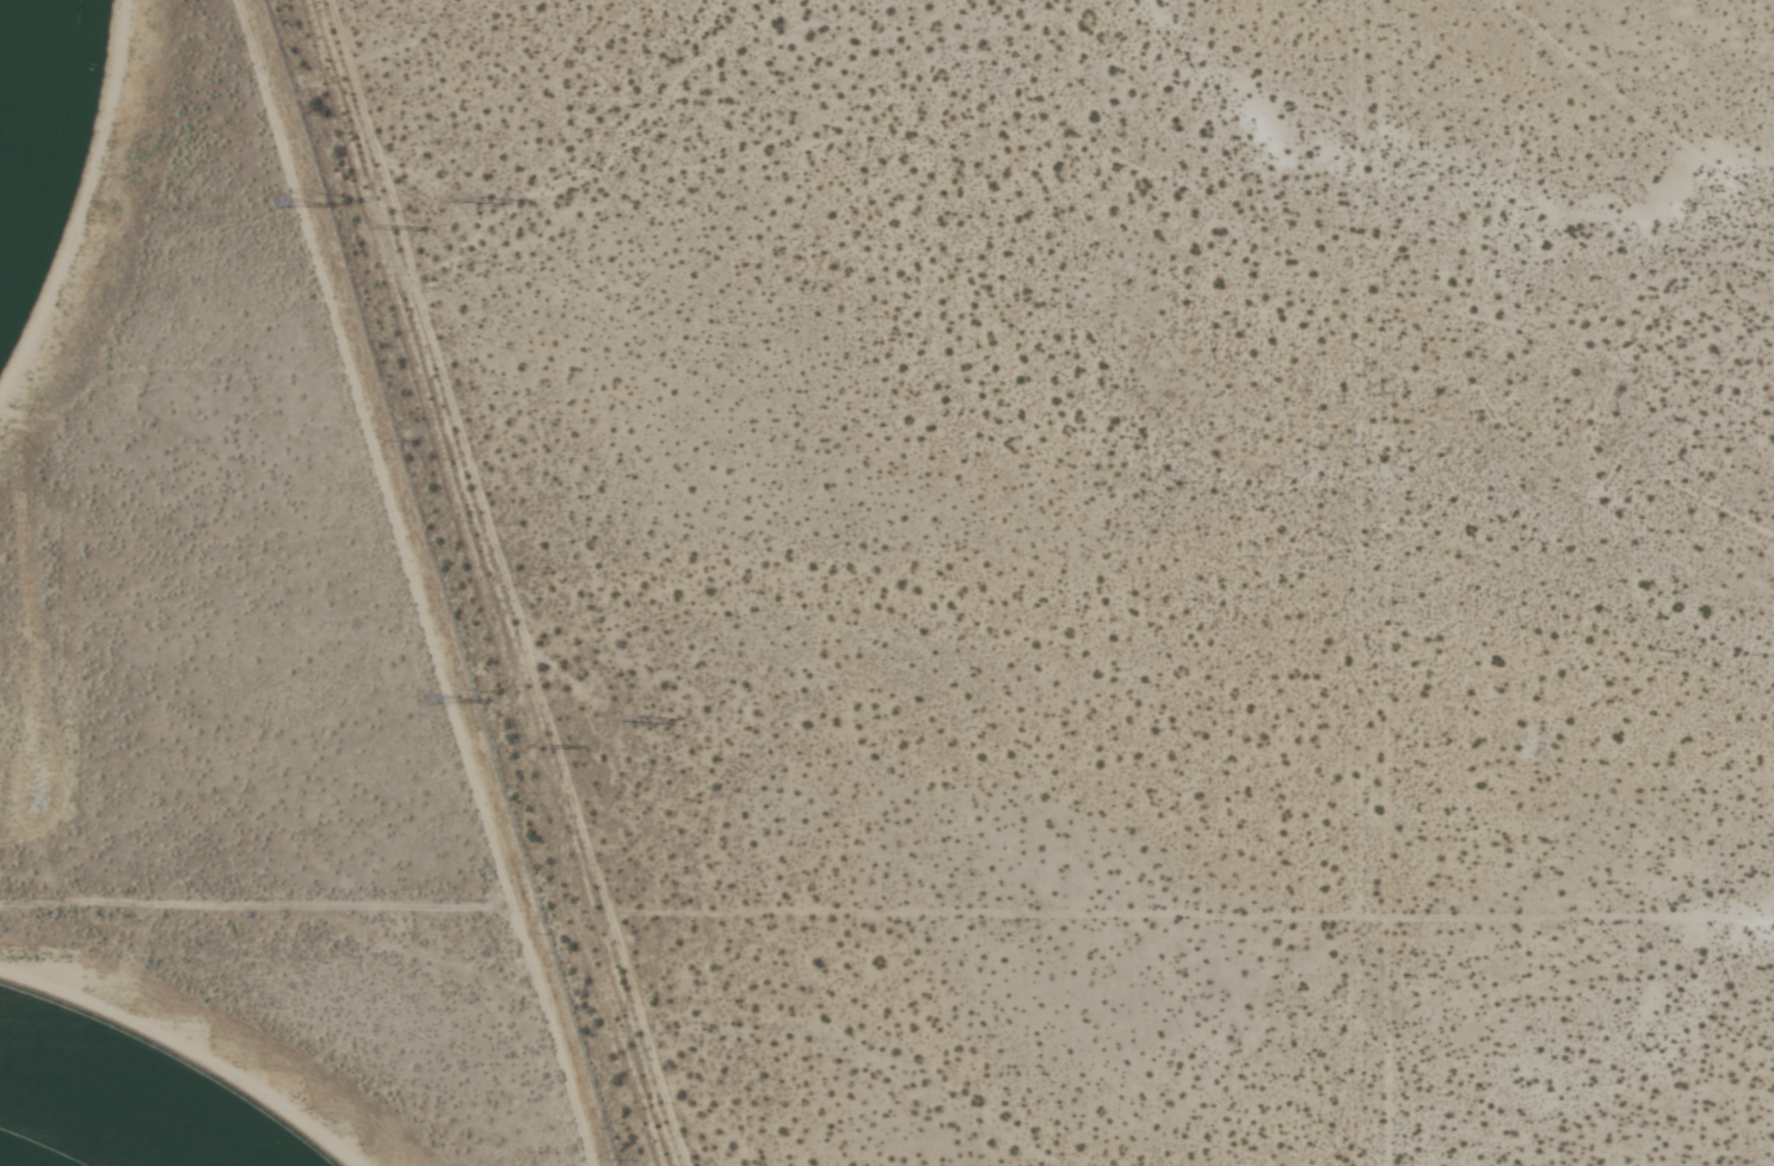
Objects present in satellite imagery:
crop: (39, 129)
power tower: (456, 198)
power tower: (267, 204)
power tower: (381, 221)
power tower: (425, 702)
power tower: (623, 715)
power tower: (543, 744)
crop: (122, 1096)

